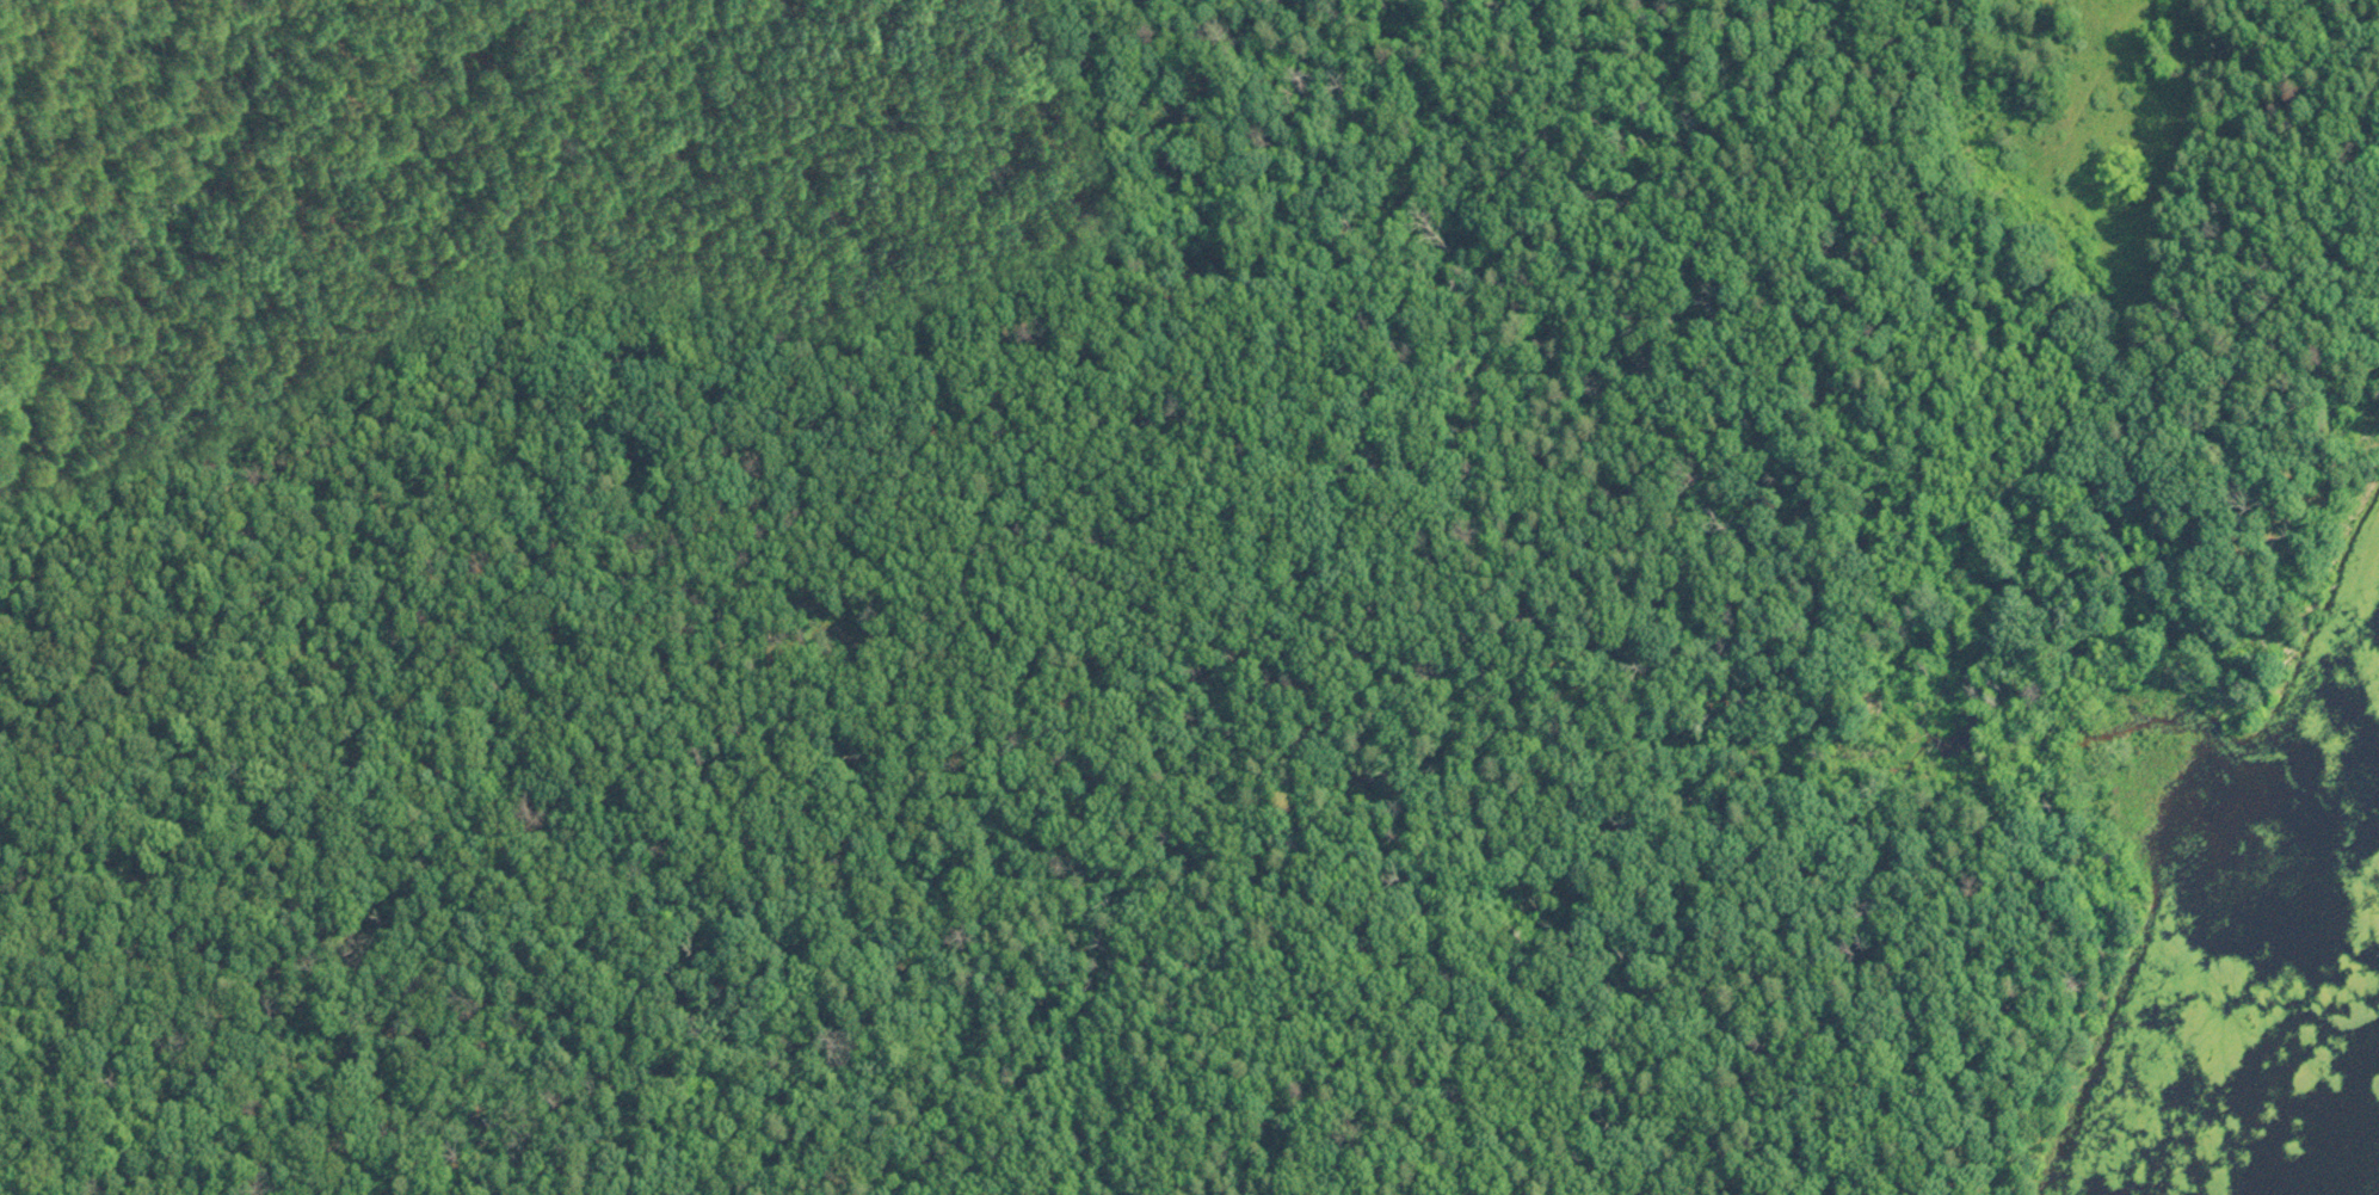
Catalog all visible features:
road: (1688, 600)

